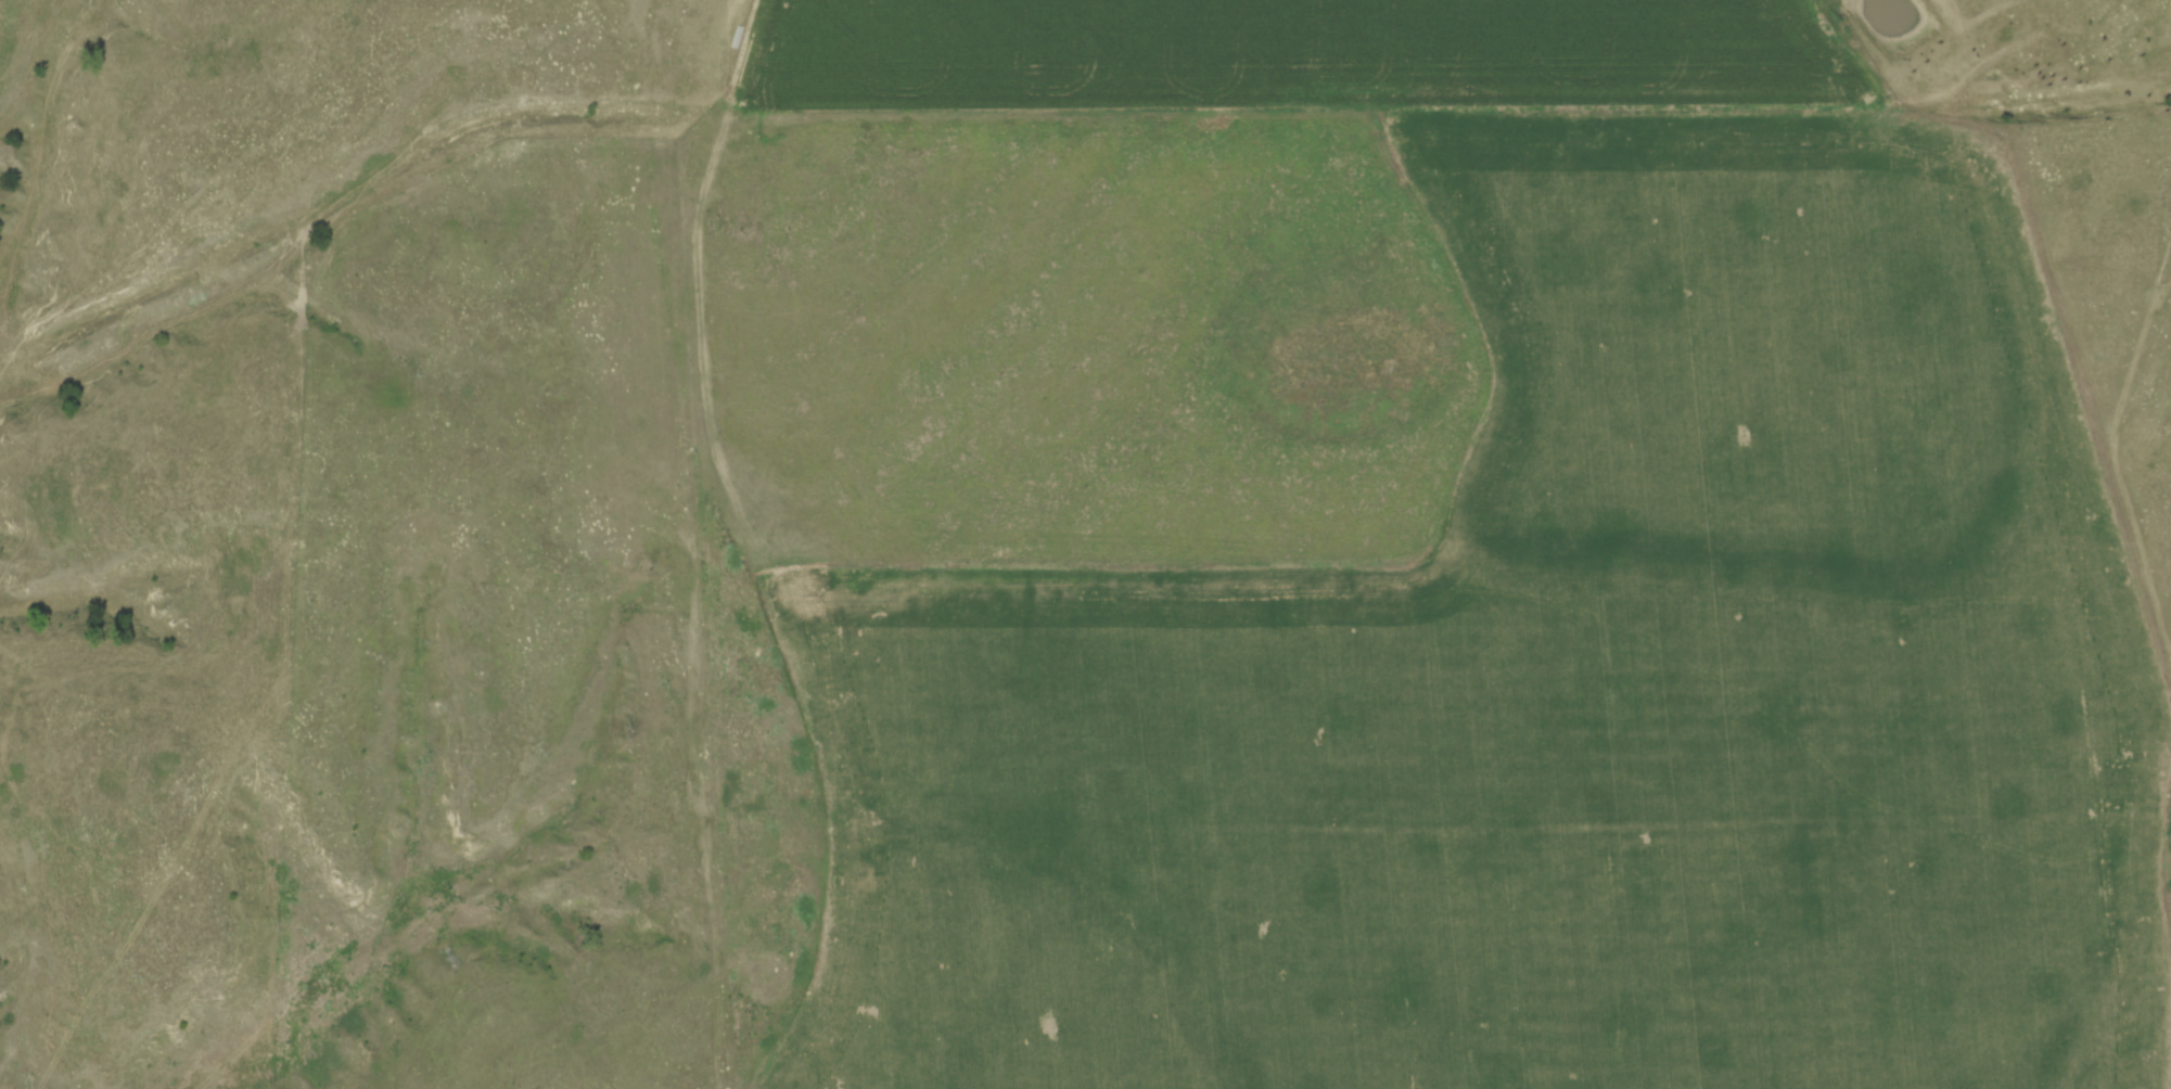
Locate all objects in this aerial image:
crop: (1317, 54)
crop: (1565, 691)

